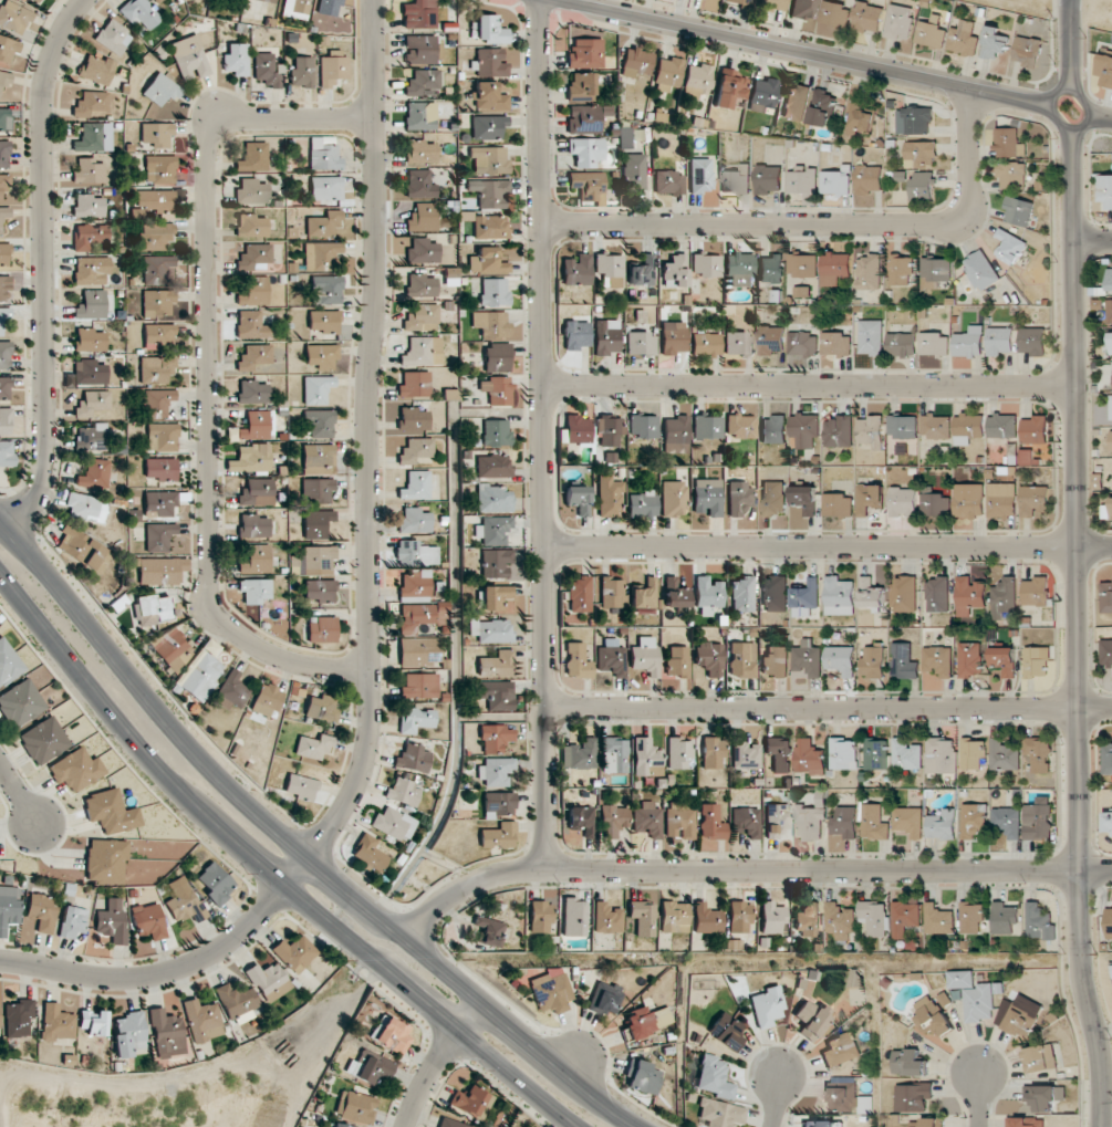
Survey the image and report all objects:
building: (153, 0)
building: (40, 1)
building: (268, 1)
building: (736, 1)
building: (772, 4)
building: (295, 6)
building: (328, 7)
building: (803, 9)
building: (139, 13)
building: (418, 14)
building: (834, 14)
building: (13, 17)
building: (869, 18)
building: (900, 22)
building: (489, 30)
building: (111, 36)
building: (963, 39)
building: (994, 42)
building: (8, 49)
building: (420, 49)
building: (584, 53)
road: (812, 55)
building: (189, 58)
building: (236, 59)
building: (635, 62)
building: (490, 63)
building: (96, 69)
building: (332, 69)
building: (267, 71)
building: (1105, 71)
building: (302, 72)
building: (667, 74)
building: (4, 79)
building: (697, 80)
building: (422, 82)
building: (581, 86)
building: (728, 87)
building: (160, 90)
building: (762, 94)
building: (488, 96)
building: (796, 102)
building: (91, 105)
building: (822, 107)
road: (1091, 111)
building: (419, 115)
building: (860, 118)
building: (583, 119)
building: (4, 121)
building: (915, 121)
building: (487, 127)
building: (156, 134)
building: (94, 137)
building: (623, 137)
building: (1010, 143)
building: (420, 152)
building: (585, 152)
building: (3, 154)
building: (323, 154)
building: (921, 154)
building: (252, 157)
building: (488, 160)
building: (159, 168)
building: (633, 170)
building: (89, 171)
building: (699, 175)
building: (1012, 175)
building: (869, 178)
building: (768, 179)
building: (736, 180)
building: (836, 181)
building: (668, 182)
building: (802, 182)
building: (3, 184)
building: (419, 184)
building: (586, 186)
building: (923, 186)
building: (325, 188)
building: (1105, 190)
building: (250, 191)
building: (488, 192)
building: (155, 200)
building: (87, 206)
building: (1018, 211)
building: (3, 215)
building: (423, 217)
building: (323, 225)
road: (817, 225)
building: (251, 226)
building: (489, 227)
building: (87, 236)
building: (155, 236)
road: (1093, 241)
building: (1010, 247)
building: (423, 251)
building: (3, 253)
building: (321, 255)
building: (254, 258)
building: (486, 261)
building: (803, 264)
road: (43, 265)
building: (705, 265)
building: (835, 268)
building: (158, 269)
building: (609, 269)
building: (738, 269)
building: (770, 269)
building: (902, 269)
building: (91, 270)
building: (575, 270)
building: (981, 270)
building: (674, 271)
building: (870, 271)
building: (641, 272)
building: (936, 272)
building: (1110, 279)
building: (422, 285)
building: (4, 289)
building: (252, 290)
building: (325, 290)
building: (493, 292)
building: (156, 303)
building: (91, 304)
building: (1110, 311)
building: (4, 316)
building: (420, 317)
building: (323, 321)
building: (490, 324)
building: (251, 325)
building: (157, 334)
building: (575, 335)
building: (606, 336)
building: (871, 337)
building: (89, 340)
building: (771, 340)
building: (1111, 340)
building: (999, 341)
building: (1032, 341)
building: (672, 342)
building: (640, 343)
building: (738, 343)
building: (802, 343)
building: (705, 344)
building: (836, 344)
building: (901, 344)
building: (934, 344)
building: (967, 344)
building: (422, 351)
building: (4, 355)
building: (321, 356)
building: (254, 357)
building: (496, 357)
building: (156, 369)
building: (89, 372)
road: (208, 374)
building: (414, 384)
road: (809, 386)
building: (4, 388)
building: (316, 389)
building: (496, 389)
building: (252, 392)
building: (450, 394)
building: (92, 403)
building: (157, 403)
building: (1111, 408)
building: (413, 418)
building: (4, 420)
building: (319, 422)
building: (254, 426)
building: (642, 426)
building: (740, 426)
building: (902, 426)
building: (935, 426)
building: (1001, 426)
building: (707, 427)
building: (967, 428)
building: (575, 429)
building: (772, 429)
building: (804, 429)
building: (1033, 429)
building: (606, 430)
building: (675, 430)
building: (839, 431)
building: (495, 432)
building: (870, 432)
road: (542, 434)
road: (367, 436)
building: (91, 437)
building: (162, 437)
building: (1111, 440)
building: (416, 451)
building: (6, 452)
building: (1026, 457)
building: (250, 458)
building: (319, 459)
building: (492, 466)
building: (162, 469)
building: (93, 474)
building: (415, 486)
building: (316, 490)
building: (256, 492)
building: (610, 495)
building: (707, 497)
building: (673, 498)
building: (738, 498)
building: (772, 498)
building: (869, 498)
building: (492, 499)
building: (578, 499)
building: (804, 499)
building: (968, 500)
building: (1001, 500)
building: (1035, 501)
building: (160, 502)
building: (903, 502)
building: (934, 503)
building: (642, 504)
building: (838, 504)
building: (86, 507)
building: (1111, 519)
building: (414, 521)
building: (316, 523)
building: (254, 525)
building: (492, 530)
building: (158, 536)
road: (809, 546)
road: (1093, 546)
building: (82, 550)
building: (415, 554)
building: (256, 560)
building: (314, 561)
building: (495, 563)
road: (1075, 564)
building: (160, 571)
building: (414, 584)
building: (254, 589)
building: (319, 589)
building: (610, 592)
building: (1036, 592)
building: (579, 594)
building: (674, 594)
building: (707, 594)
building: (741, 594)
building: (775, 594)
building: (871, 594)
building: (903, 594)
building: (937, 595)
building: (969, 595)
building: (493, 596)
building: (839, 596)
building: (1106, 596)
building: (643, 597)
building: (1002, 597)
building: (806, 599)
building: (153, 609)
building: (419, 616)
building: (322, 629)
building: (490, 630)
building: (172, 649)
building: (1106, 650)
building: (419, 651)
building: (645, 656)
building: (611, 658)
building: (709, 658)
building: (807, 658)
building: (741, 659)
building: (840, 659)
building: (969, 659)
building: (576, 660)
building: (938, 660)
building: (1004, 660)
building: (677, 661)
building: (775, 661)
building: (872, 661)
building: (903, 661)
building: (1036, 661)
building: (8, 662)
building: (495, 664)
building: (199, 675)
building: (419, 686)
building: (230, 691)
building: (496, 695)
road: (147, 699)
building: (266, 700)
building: (20, 703)
building: (322, 708)
road: (828, 709)
building: (415, 719)
building: (495, 738)
building: (43, 740)
building: (313, 747)
building: (711, 752)
building: (679, 753)
building: (843, 753)
building: (876, 753)
building: (974, 753)
building: (1039, 753)
building: (579, 754)
building: (745, 754)
building: (778, 754)
building: (906, 754)
building: (614, 755)
building: (942, 755)
building: (1005, 755)
building: (809, 756)
building: (646, 758)
building: (1108, 758)
building: (413, 759)
building: (75, 769)
building: (495, 771)
building: (300, 786)
building: (403, 792)
road: (18, 793)
building: (497, 804)
building: (110, 812)
building: (1038, 817)
building: (646, 818)
building: (581, 820)
building: (612, 820)
building: (678, 820)
building: (777, 820)
building: (908, 821)
building: (973, 821)
building: (1108, 821)
building: (746, 822)
building: (810, 822)
building: (844, 822)
building: (874, 822)
building: (1007, 822)
building: (393, 823)
building: (942, 825)
building: (709, 827)
building: (497, 835)
building: (368, 853)
building: (105, 860)
road: (269, 869)
road: (1095, 870)
road: (730, 872)
building: (215, 883)
building: (184, 902)
building: (9, 907)
building: (41, 911)
building: (540, 917)
building: (574, 917)
building: (674, 917)
building: (739, 917)
building: (873, 917)
building: (904, 917)
building: (971, 917)
building: (606, 918)
building: (772, 918)
building: (1004, 918)
building: (640, 919)
building: (706, 919)
building: (938, 919)
building: (808, 920)
building: (839, 920)
building: (72, 921)
building: (111, 921)
building: (149, 921)
building: (1039, 921)
building: (489, 931)
building: (294, 953)
road: (176, 971)
building: (855, 975)
building: (963, 979)
building: (268, 980)
building: (549, 990)
road: (471, 994)
building: (604, 998)
building: (237, 1002)
building: (983, 1002)
building: (766, 1006)
building: (933, 1016)
building: (18, 1018)
building: (811, 1019)
building: (1020, 1019)
building: (202, 1020)
building: (646, 1021)
building: (93, 1022)
building: (56, 1023)
building: (725, 1031)
building: (128, 1033)
building: (166, 1033)
building: (392, 1034)
building: (840, 1050)
building: (1040, 1058)
road: (437, 1062)
building: (910, 1063)
building: (368, 1067)
building: (641, 1077)
building: (713, 1077)
building: (843, 1094)
building: (914, 1096)
building: (1045, 1096)
road: (979, 1099)
road: (776, 1100)
building: (470, 1102)
building: (355, 1106)
building: (719, 1114)
building: (1025, 1121)
building: (450, 1123)
building: (927, 1123)
building: (821, 1124)
building: (336, 1125)

